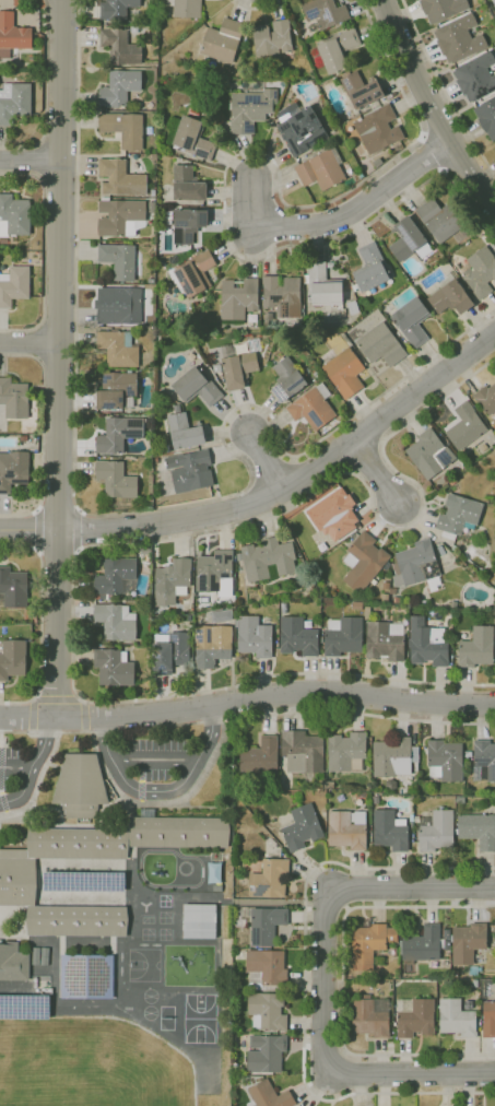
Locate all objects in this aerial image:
building: (494, 2)
road: (257, 7)
building: (186, 8)
building: (117, 9)
building: (443, 9)
building: (325, 12)
building: (311, 28)
building: (13, 33)
building: (459, 38)
building: (223, 40)
building: (272, 42)
building: (120, 47)
building: (338, 49)
building: (4, 55)
building: (475, 78)
building: (120, 87)
road: (444, 89)
building: (361, 90)
road: (45, 92)
building: (14, 102)
building: (251, 106)
road: (432, 107)
building: (487, 117)
building: (125, 129)
building: (300, 129)
building: (378, 129)
building: (190, 136)
road: (31, 160)
building: (377, 163)
road: (226, 169)
building: (321, 169)
building: (120, 178)
building: (187, 184)
building: (14, 215)
building: (119, 215)
road: (338, 217)
building: (441, 219)
building: (188, 225)
building: (461, 236)
building: (409, 240)
road: (45, 250)
building: (119, 260)
building: (330, 264)
building: (372, 269)
building: (480, 272)
building: (192, 273)
building: (14, 285)
building: (322, 285)
building: (283, 296)
building: (450, 296)
building: (238, 299)
building: (118, 306)
building: (353, 308)
building: (386, 308)
building: (269, 317)
building: (412, 321)
road: (30, 343)
building: (380, 345)
building: (118, 349)
road: (58, 358)
building: (237, 366)
building: (216, 367)
building: (345, 373)
building: (316, 374)
building: (287, 379)
building: (198, 386)
building: (117, 390)
building: (14, 399)
building: (486, 399)
building: (313, 408)
building: (465, 426)
building: (185, 431)
road: (43, 434)
building: (119, 434)
building: (23, 438)
building: (483, 447)
building: (429, 454)
building: (155, 460)
road: (267, 461)
building: (13, 470)
building: (190, 471)
road: (376, 472)
building: (116, 479)
road: (272, 495)
road: (125, 511)
building: (333, 515)
building: (458, 515)
road: (38, 529)
road: (105, 543)
building: (453, 548)
building: (268, 558)
building: (364, 562)
building: (417, 566)
building: (215, 573)
building: (485, 577)
building: (116, 578)
building: (172, 581)
building: (386, 586)
building: (13, 588)
building: (385, 598)
building: (396, 599)
building: (453, 604)
building: (357, 605)
building: (367, 611)
building: (221, 615)
building: (188, 617)
building: (116, 621)
road: (40, 622)
building: (343, 636)
building: (254, 637)
building: (297, 637)
building: (385, 640)
building: (427, 643)
building: (212, 645)
building: (476, 647)
building: (170, 651)
building: (12, 658)
building: (114, 667)
road: (247, 698)
road: (57, 699)
road: (32, 716)
road: (83, 716)
road: (247, 717)
building: (370, 740)
building: (303, 752)
building: (346, 752)
building: (260, 756)
road: (154, 757)
building: (393, 757)
building: (445, 761)
building: (484, 761)
road: (32, 765)
road: (15, 766)
road: (37, 783)
building: (322, 784)
building: (330, 785)
building: (391, 785)
building: (80, 786)
building: (411, 788)
road: (161, 790)
building: (375, 800)
building: (460, 800)
road: (162, 802)
flagpole: (19, 821)
building: (302, 827)
building: (435, 829)
building: (478, 829)
building: (346, 831)
building: (390, 831)
track: (161, 869)
building: (17, 872)
building: (215, 872)
building: (270, 879)
building: (84, 881)
building: (217, 887)
road: (326, 898)
road: (217, 899)
road: (327, 904)
road: (345, 907)
building: (198, 920)
building: (264, 925)
building: (468, 942)
building: (370, 944)
building: (422, 945)
building: (13, 963)
park: (153, 963)
building: (266, 968)
building: (472, 970)
building: (456, 973)
building: (86, 975)
road: (342, 980)
road: (305, 981)
building: (35, 984)
building: (475, 984)
building: (468, 1004)
building: (24, 1005)
building: (267, 1011)
building: (370, 1016)
park: (166, 1017)
building: (415, 1017)
park: (200, 1019)
building: (457, 1019)
building: (488, 1019)
building: (266, 1054)
road: (411, 1073)
building: (269, 1095)

